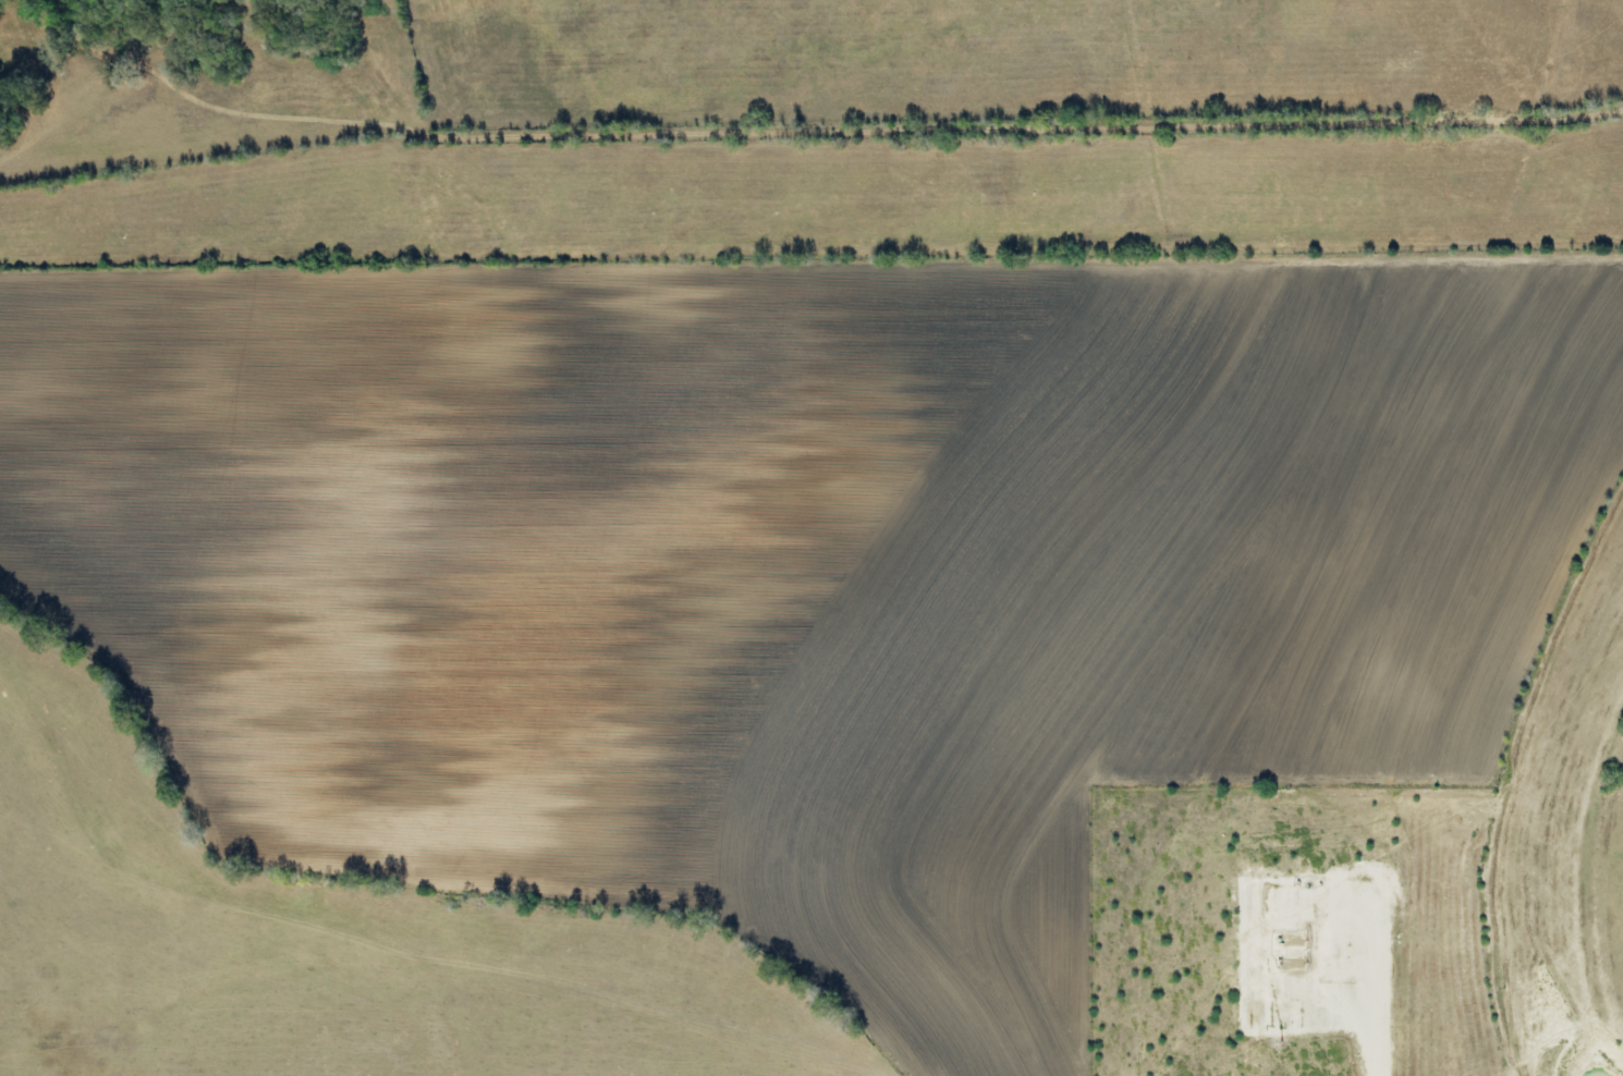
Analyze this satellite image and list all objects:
petroleum well: (1286, 940)
road: (1381, 1054)

